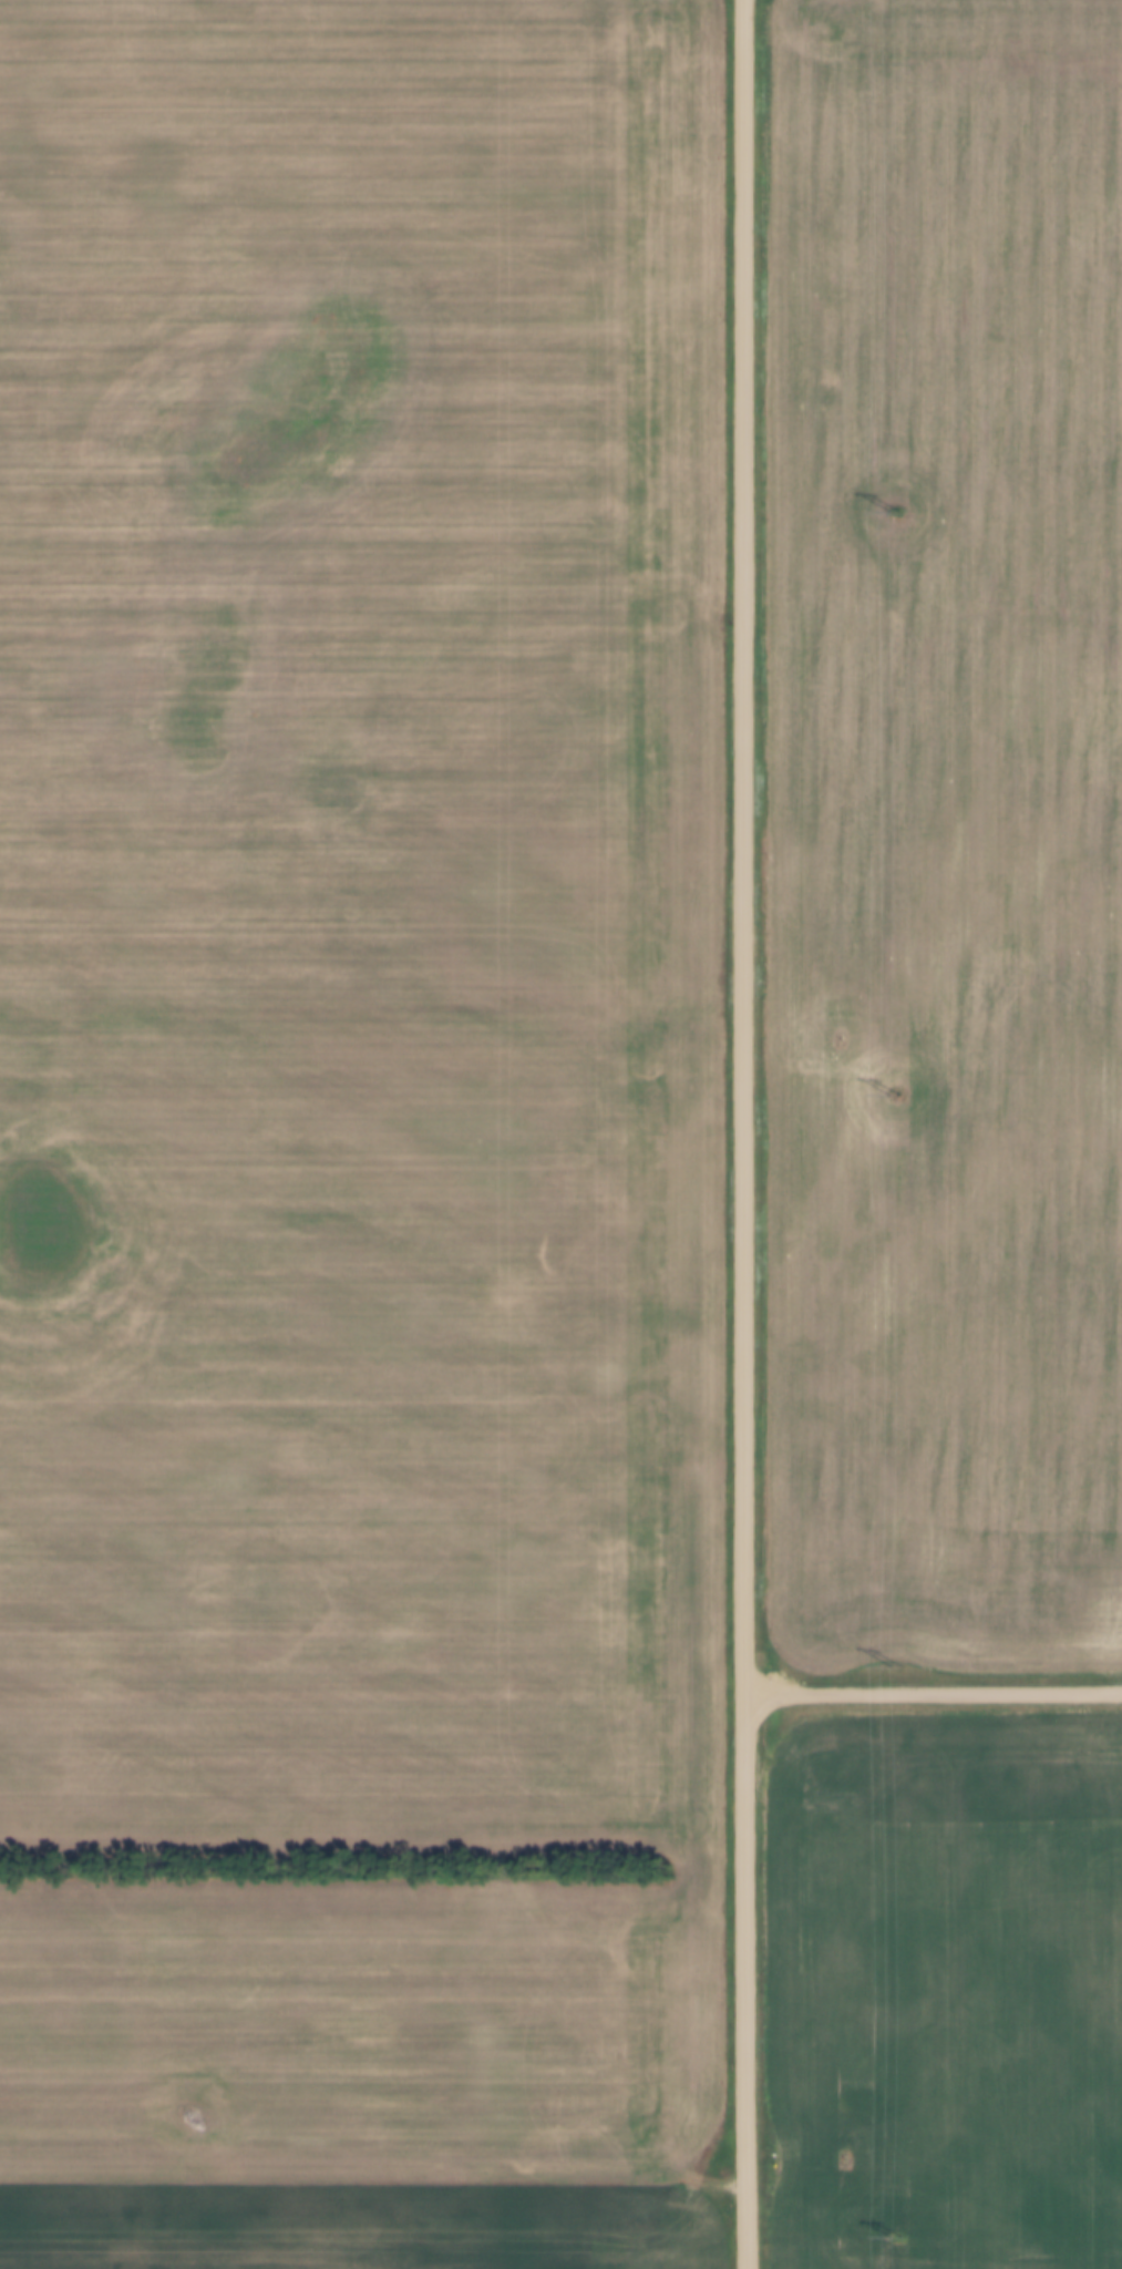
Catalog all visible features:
road: (744, 1134)
road: (934, 1691)

